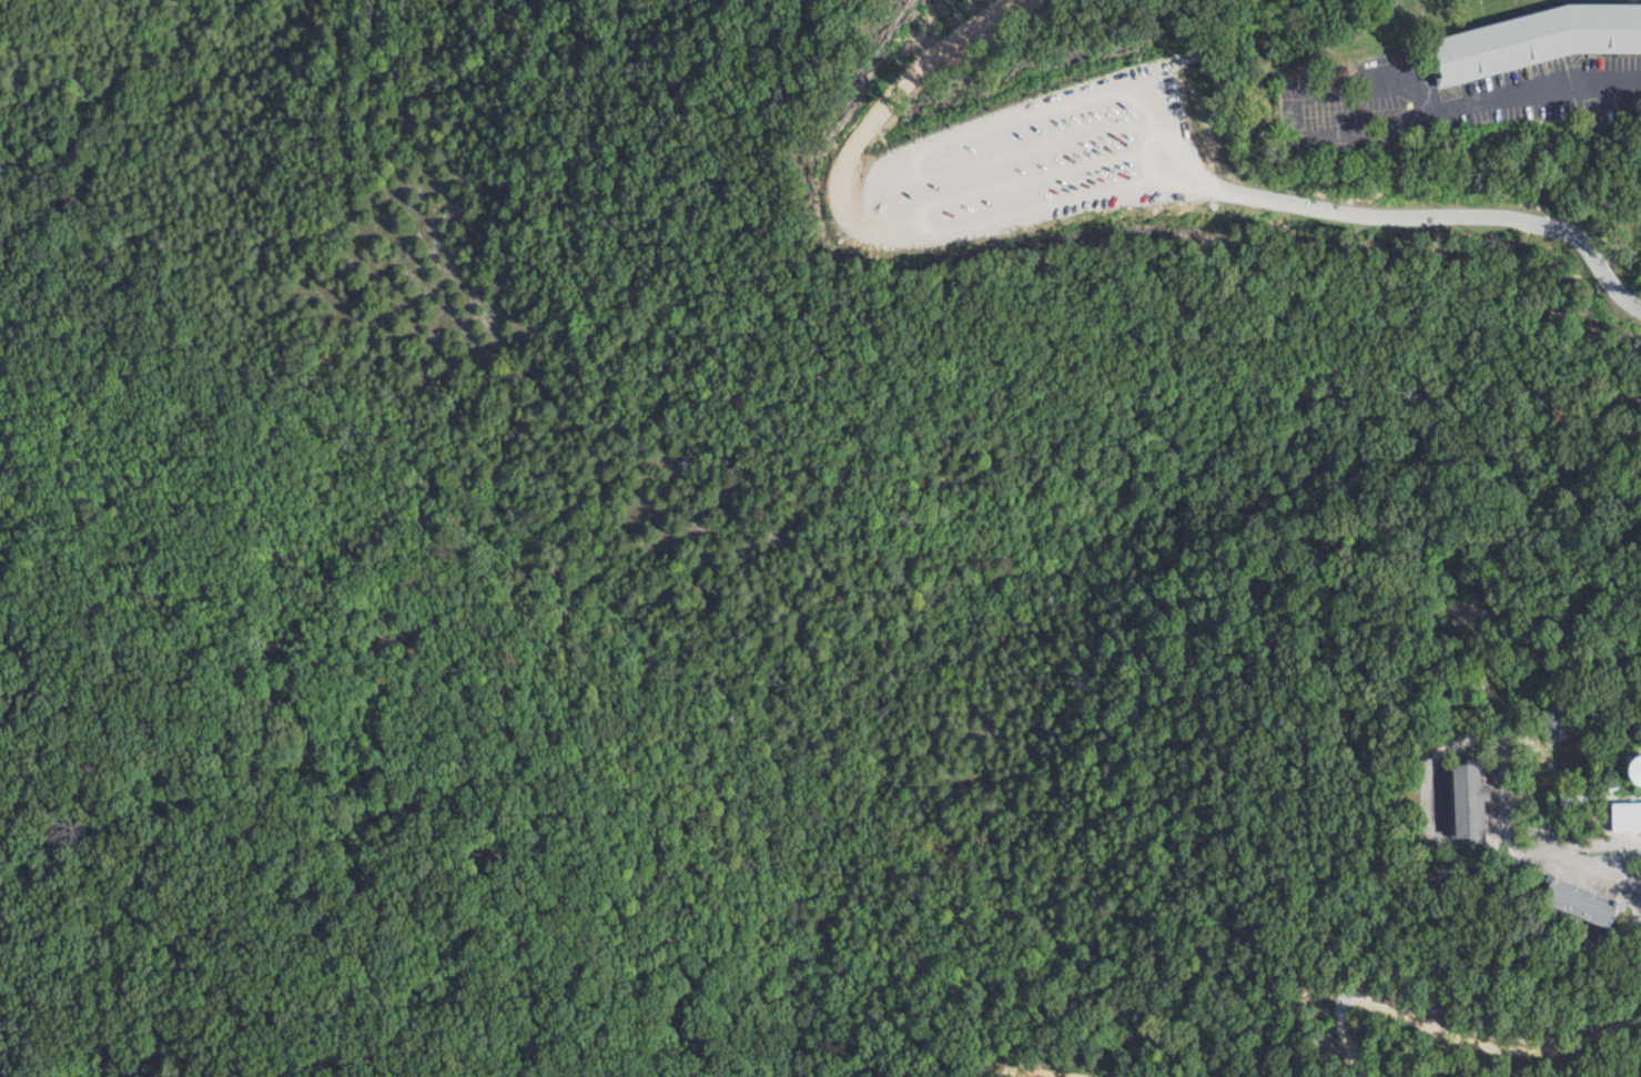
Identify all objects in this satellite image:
building: (1538, 35)
road: (1558, 85)
road: (1439, 224)
road: (1436, 754)
building: (1633, 768)
storage tank: (1635, 769)
building: (1465, 799)
building: (1625, 816)
road: (1598, 844)
road: (1573, 862)
building: (1578, 902)
theme park: (1588, 1065)

